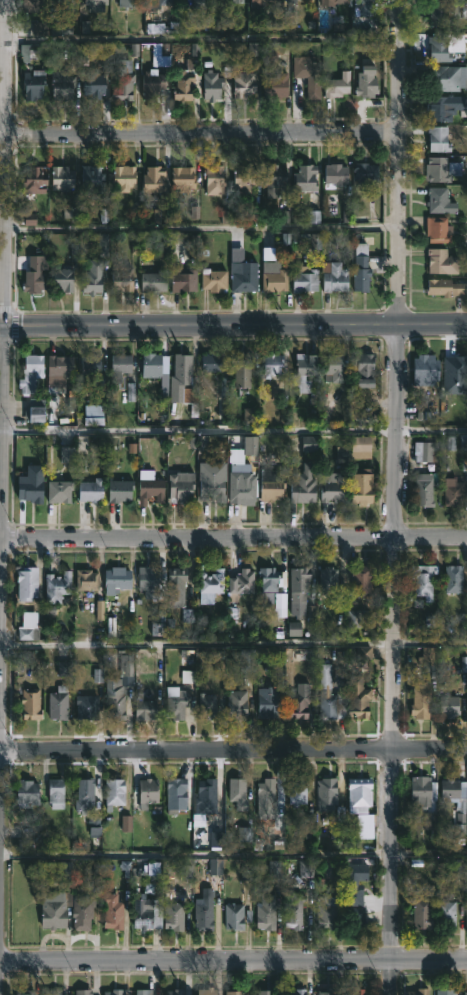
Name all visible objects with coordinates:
building: (66, 1)
building: (96, 1)
building: (231, 1)
building: (291, 1)
building: (158, 2)
building: (260, 2)
building: (333, 2)
building: (128, 3)
building: (32, 4)
building: (200, 4)
building: (365, 7)
building: (441, 12)
road: (199, 42)
building: (438, 48)
building: (30, 51)
building: (308, 73)
building: (445, 77)
building: (365, 81)
building: (123, 82)
building: (32, 83)
building: (92, 84)
building: (152, 84)
building: (243, 85)
building: (275, 85)
building: (338, 85)
building: (62, 86)
building: (184, 86)
building: (211, 86)
building: (444, 107)
road: (200, 134)
building: (437, 138)
building: (440, 169)
building: (335, 173)
building: (365, 173)
building: (182, 177)
building: (62, 178)
building: (123, 178)
building: (152, 178)
building: (305, 178)
building: (33, 179)
building: (92, 180)
building: (214, 180)
building: (244, 180)
building: (275, 181)
building: (438, 200)
road: (198, 229)
building: (439, 231)
building: (441, 261)
building: (361, 268)
building: (35, 274)
building: (243, 276)
building: (93, 278)
building: (273, 278)
building: (334, 278)
building: (122, 279)
building: (62, 280)
building: (183, 280)
building: (305, 280)
building: (213, 281)
building: (154, 282)
building: (446, 288)
road: (233, 325)
road: (3, 350)
building: (210, 362)
building: (271, 363)
building: (60, 364)
building: (151, 364)
building: (119, 365)
building: (89, 366)
building: (333, 368)
building: (241, 369)
building: (363, 369)
building: (426, 369)
building: (182, 370)
building: (454, 370)
building: (31, 372)
building: (305, 373)
building: (36, 410)
road: (233, 433)
building: (360, 446)
building: (424, 451)
building: (240, 478)
building: (212, 481)
building: (272, 484)
building: (304, 485)
building: (181, 486)
building: (362, 488)
building: (91, 489)
building: (151, 489)
building: (334, 489)
building: (424, 489)
building: (30, 490)
building: (58, 490)
building: (120, 490)
building: (453, 493)
road: (395, 497)
road: (233, 538)
building: (116, 578)
building: (454, 578)
building: (85, 579)
building: (362, 580)
building: (424, 580)
building: (25, 582)
building: (152, 582)
building: (240, 583)
building: (209, 584)
building: (268, 584)
building: (56, 586)
building: (175, 586)
building: (298, 589)
building: (359, 618)
building: (29, 626)
road: (233, 648)
building: (247, 660)
building: (126, 667)
building: (358, 698)
building: (421, 700)
building: (116, 701)
building: (298, 701)
building: (175, 702)
building: (267, 702)
building: (30, 703)
building: (58, 703)
building: (237, 704)
building: (328, 704)
building: (207, 706)
building: (449, 706)
building: (86, 707)
building: (145, 710)
road: (233, 749)
building: (296, 791)
building: (360, 791)
building: (114, 792)
building: (420, 792)
building: (25, 793)
building: (55, 793)
building: (147, 793)
building: (175, 793)
building: (237, 793)
building: (326, 793)
building: (85, 795)
building: (266, 796)
building: (204, 801)
building: (461, 807)
road: (233, 858)
building: (306, 870)
building: (356, 883)
building: (54, 909)
building: (204, 910)
building: (293, 910)
building: (112, 911)
building: (266, 912)
building: (326, 912)
building: (147, 913)
building: (422, 913)
building: (466, 913)
building: (82, 914)
building: (446, 915)
building: (173, 916)
building: (234, 916)
building: (355, 917)
road: (233, 959)
building: (174, 991)
building: (207, 991)
building: (326, 991)
building: (355, 991)
building: (419, 991)
building: (445, 991)
building: (24, 992)
building: (52, 992)
building: (83, 992)
building: (112, 992)
building: (142, 992)
building: (234, 992)
building: (263, 992)
building: (297, 992)
building: (465, 993)

